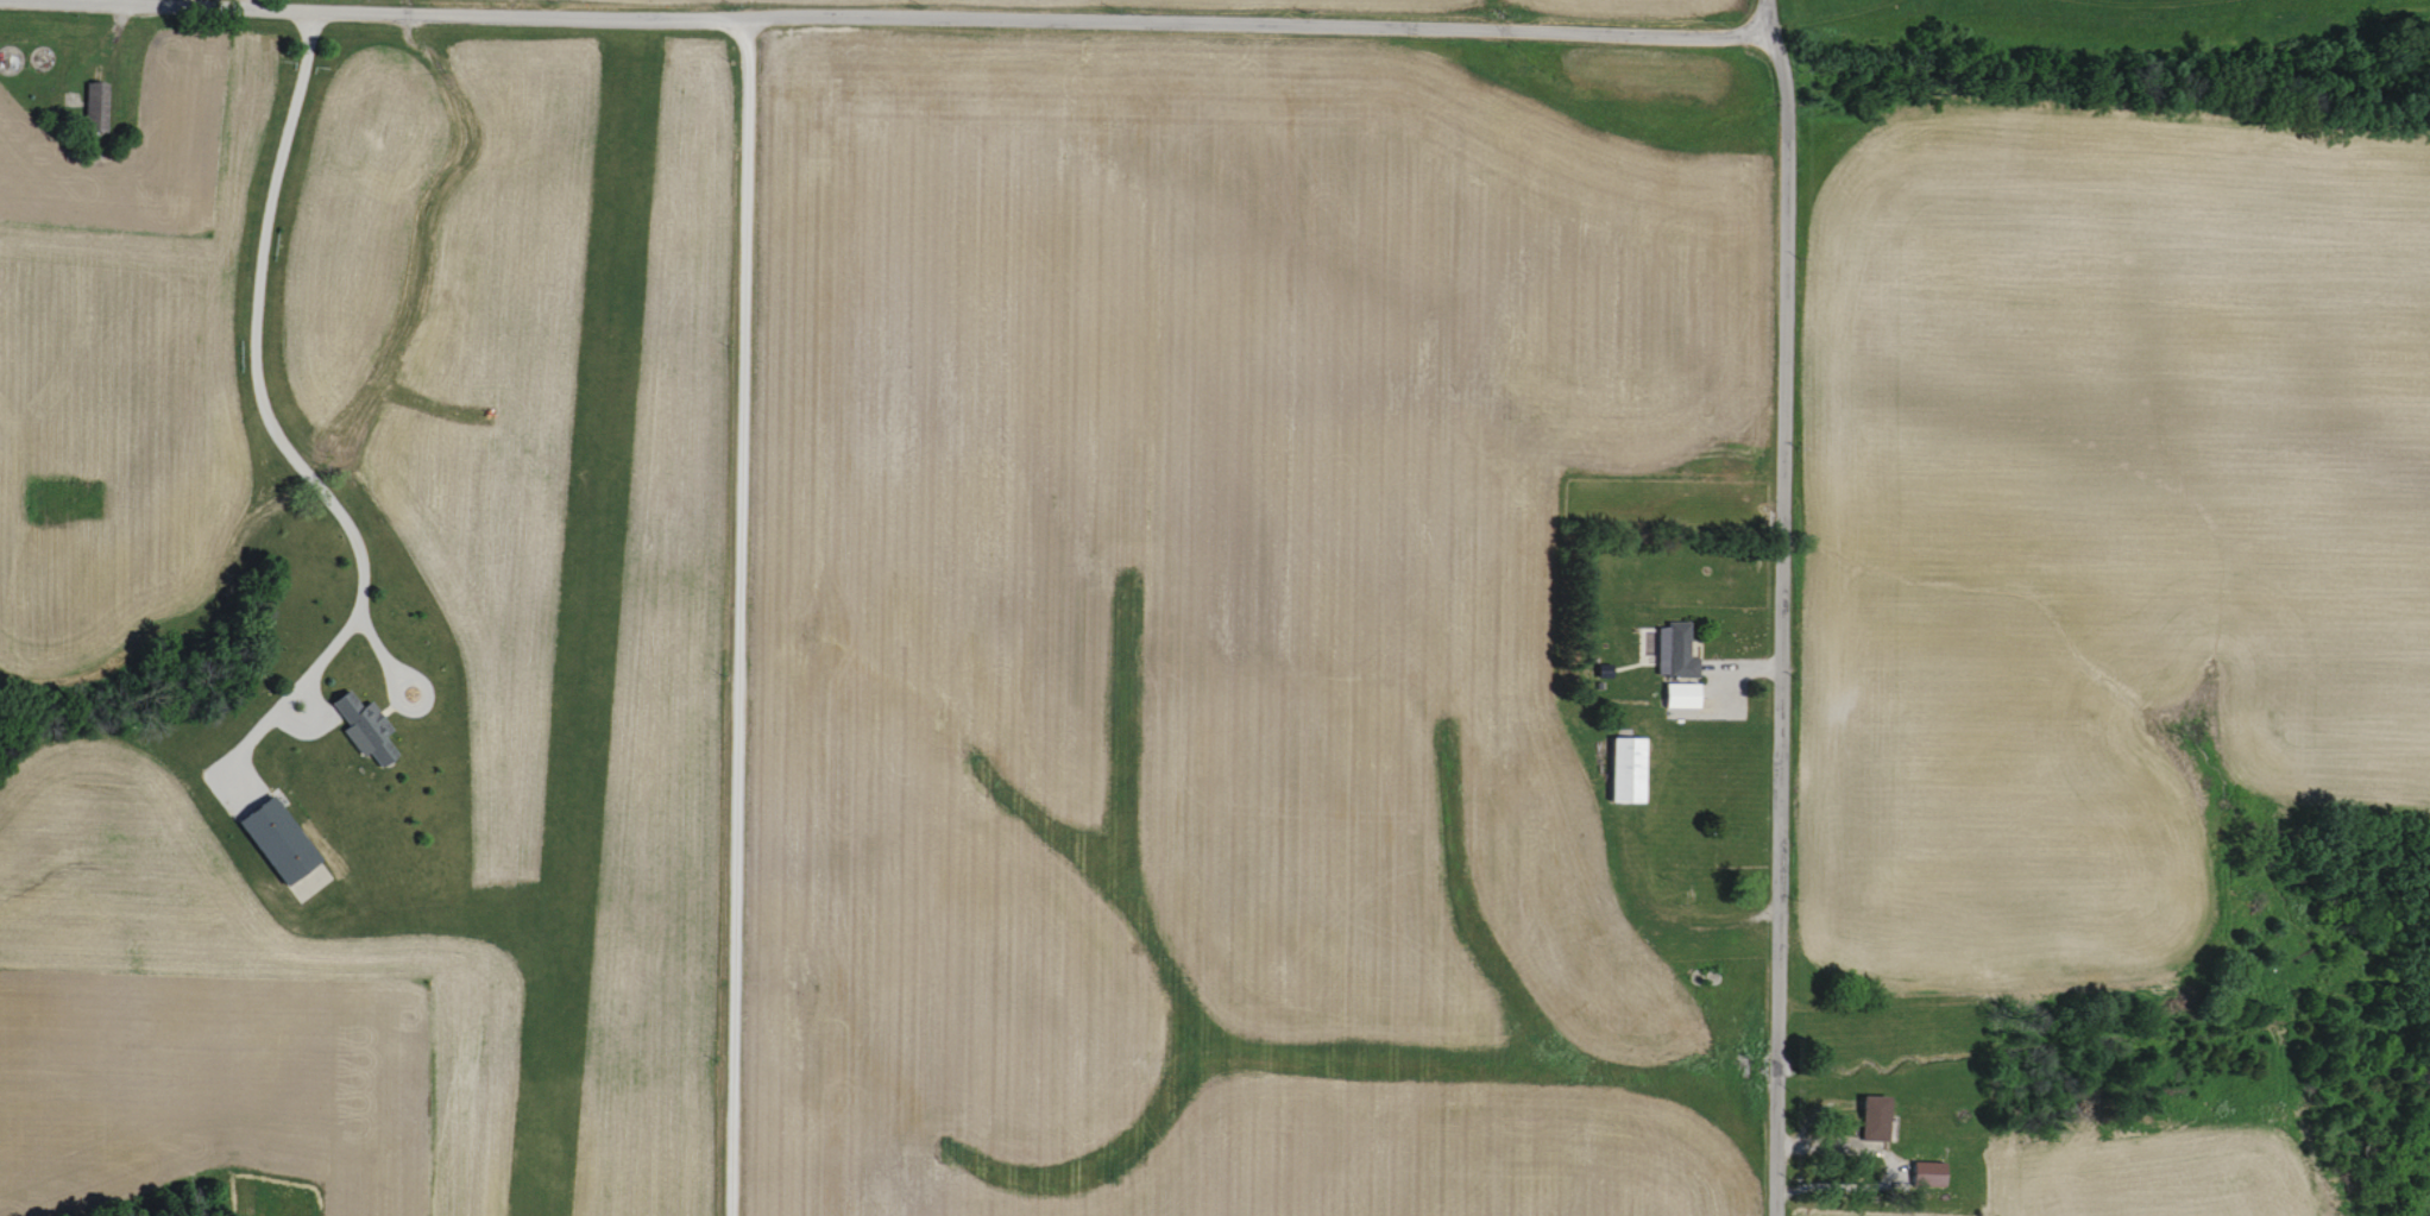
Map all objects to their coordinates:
road: (247, 5)
road: (877, 15)
building: (95, 105)
road: (253, 386)
road: (1780, 603)
road: (722, 615)
airport runway: (583, 630)
building: (1670, 650)
building: (1675, 694)
building: (358, 726)
building: (1619, 768)
building: (270, 838)
building: (1870, 1117)
building: (1924, 1173)

